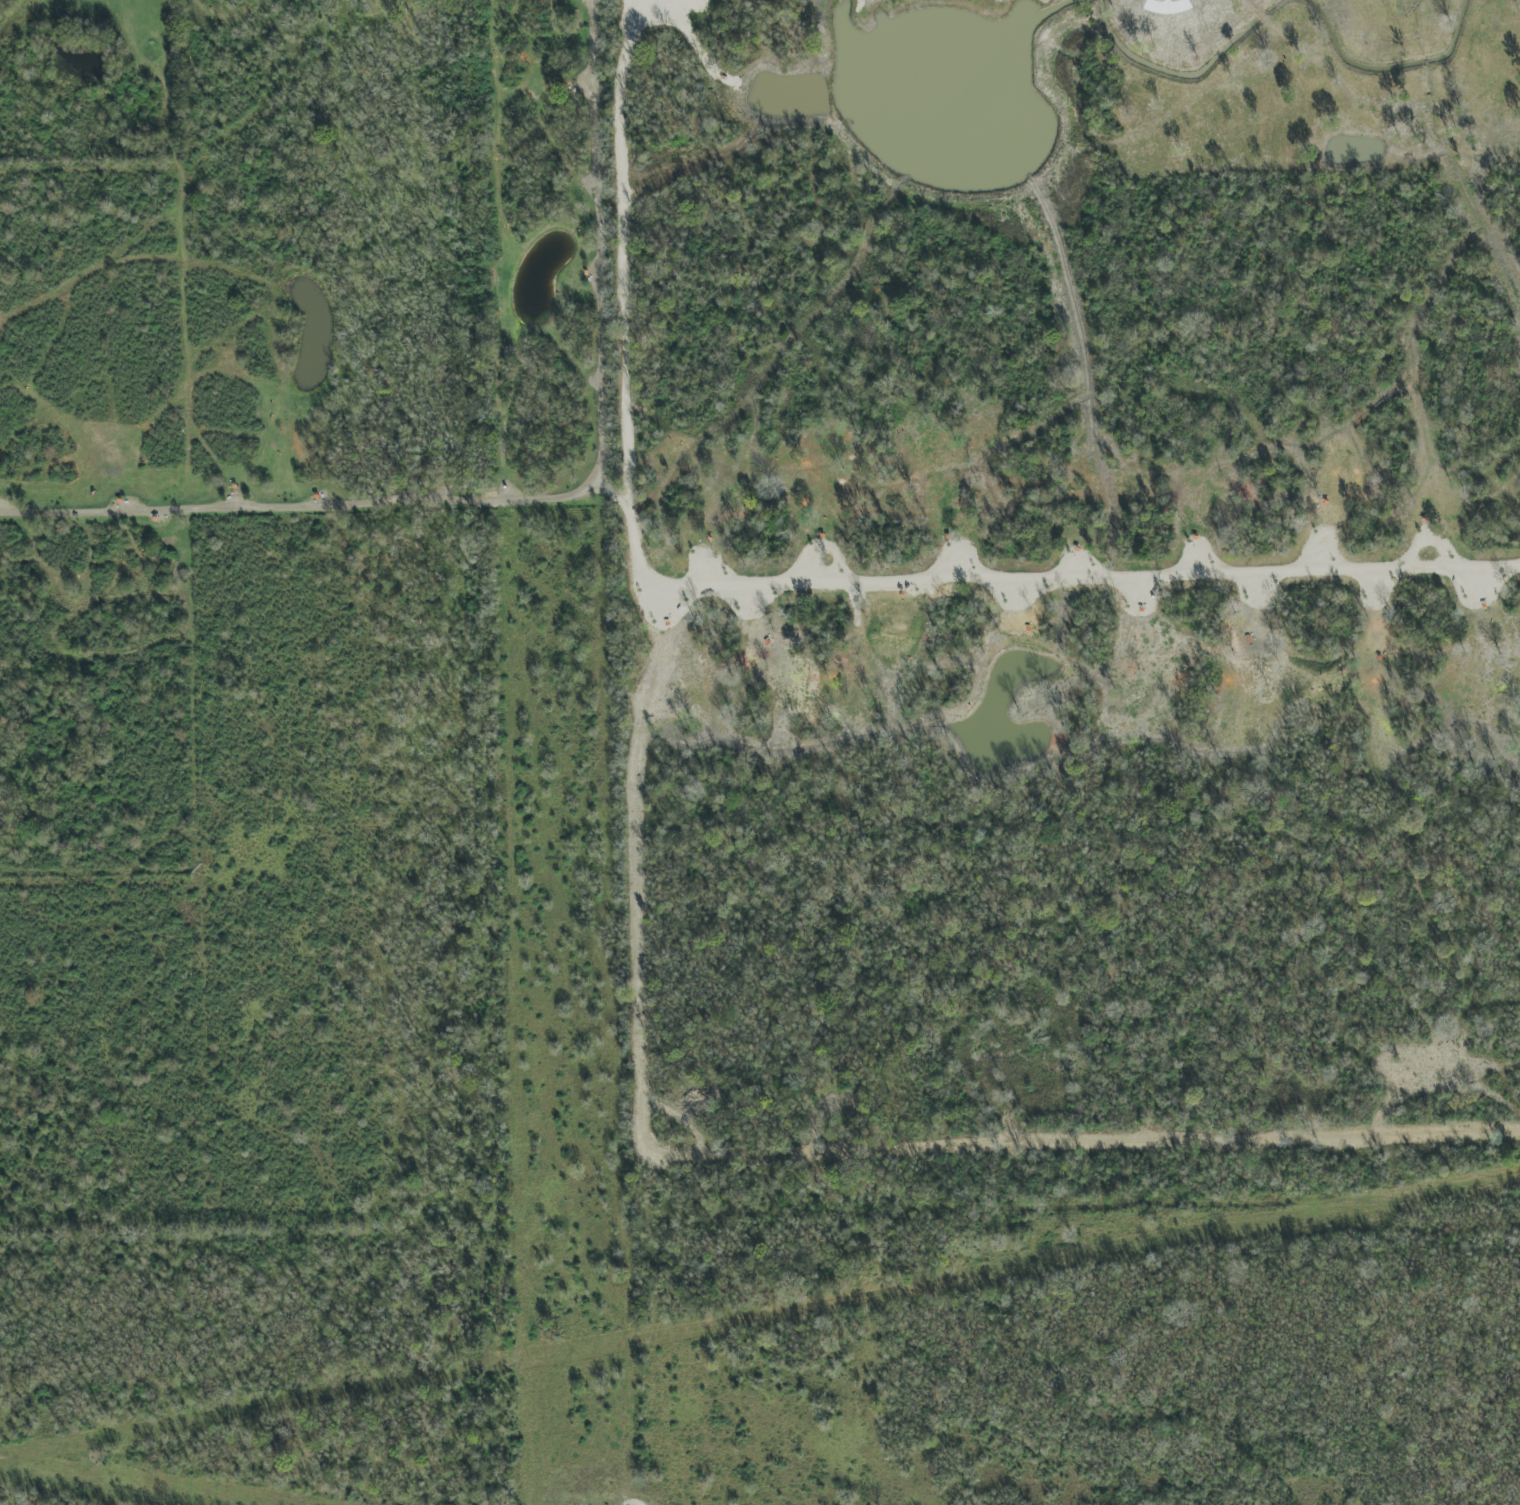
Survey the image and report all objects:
road: (600, 242)
road: (303, 510)
road: (1023, 584)

